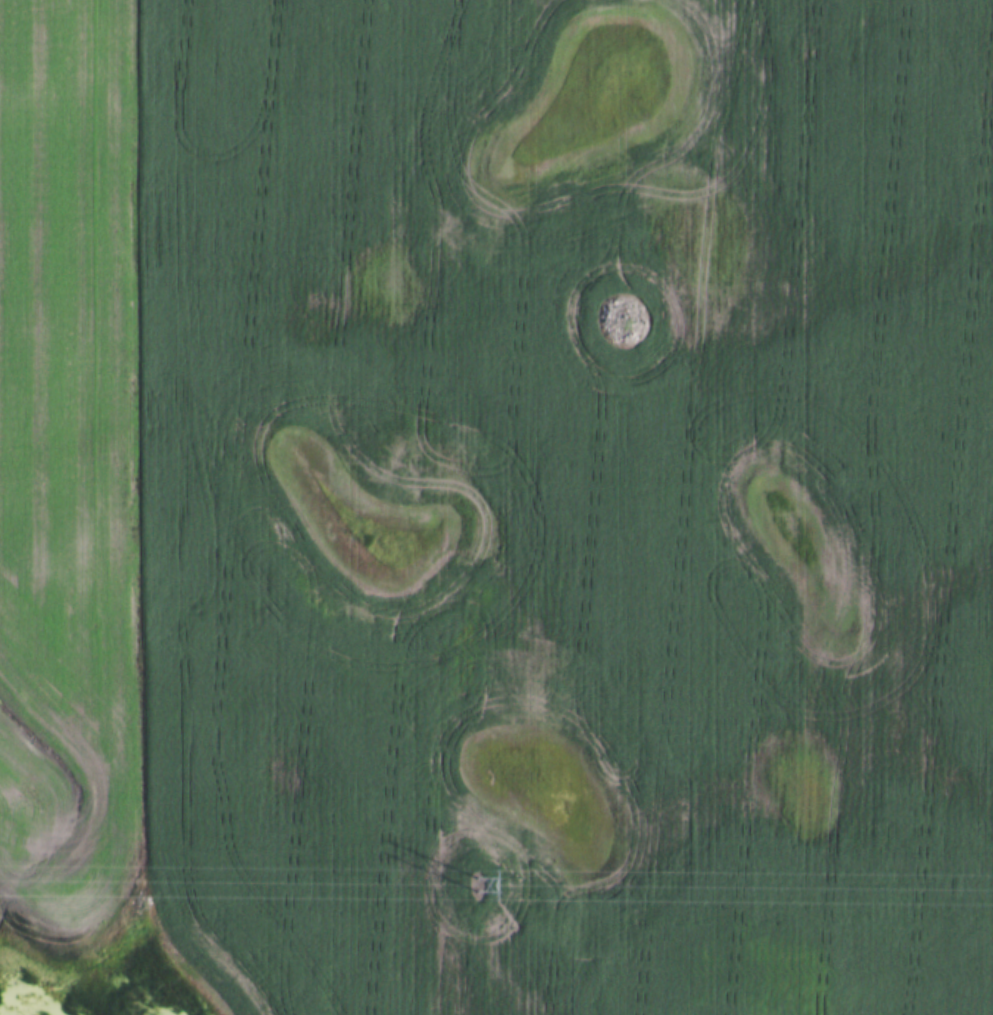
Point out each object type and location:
road: (145, 455)
power tower: (476, 885)

